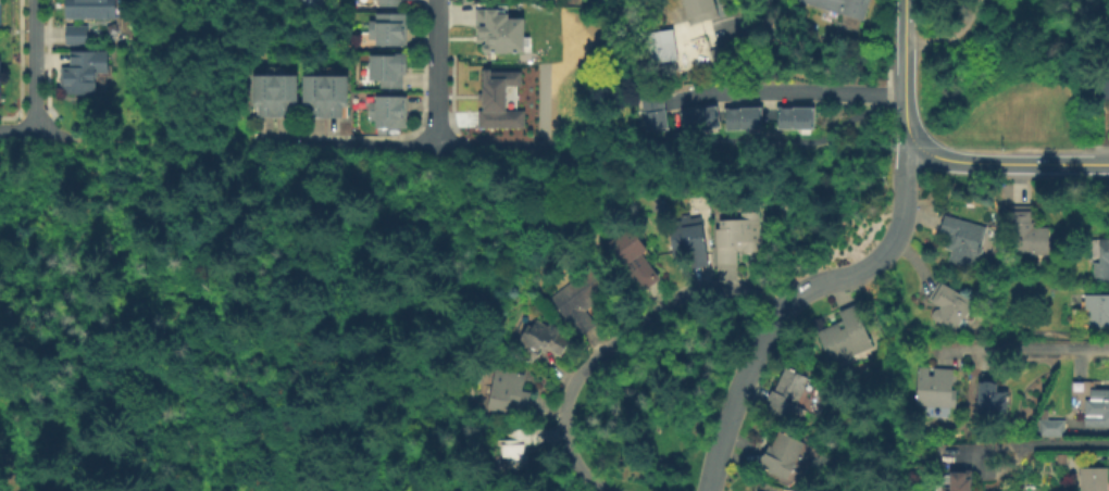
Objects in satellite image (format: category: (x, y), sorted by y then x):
building: (391, 3)
building: (843, 7)
building: (700, 10)
building: (88, 11)
road: (755, 21)
road: (436, 24)
building: (389, 30)
building: (500, 30)
building: (76, 37)
building: (659, 45)
road: (901, 56)
building: (725, 58)
road: (34, 66)
building: (388, 70)
building: (82, 75)
road: (785, 89)
building: (1101, 89)
building: (274, 96)
building: (324, 96)
road: (435, 98)
building: (499, 100)
building: (388, 112)
building: (655, 113)
building: (744, 118)
building: (701, 119)
building: (796, 119)
road: (907, 130)
road: (17, 131)
road: (145, 144)
road: (699, 146)
road: (373, 147)
road: (1011, 162)
building: (1026, 234)
building: (738, 236)
building: (688, 238)
building: (961, 239)
building: (634, 257)
building: (1099, 257)
road: (797, 298)
building: (580, 300)
building: (948, 305)
building: (1092, 311)
building: (846, 335)
building: (543, 339)
road: (618, 343)
road: (1020, 348)
building: (1063, 375)
building: (935, 387)
building: (508, 392)
building: (788, 395)
building: (990, 395)
building: (1098, 407)
building: (1051, 427)
road: (1031, 441)
building: (516, 448)
building: (782, 454)
building: (1061, 459)
building: (1093, 479)
building: (957, 480)

